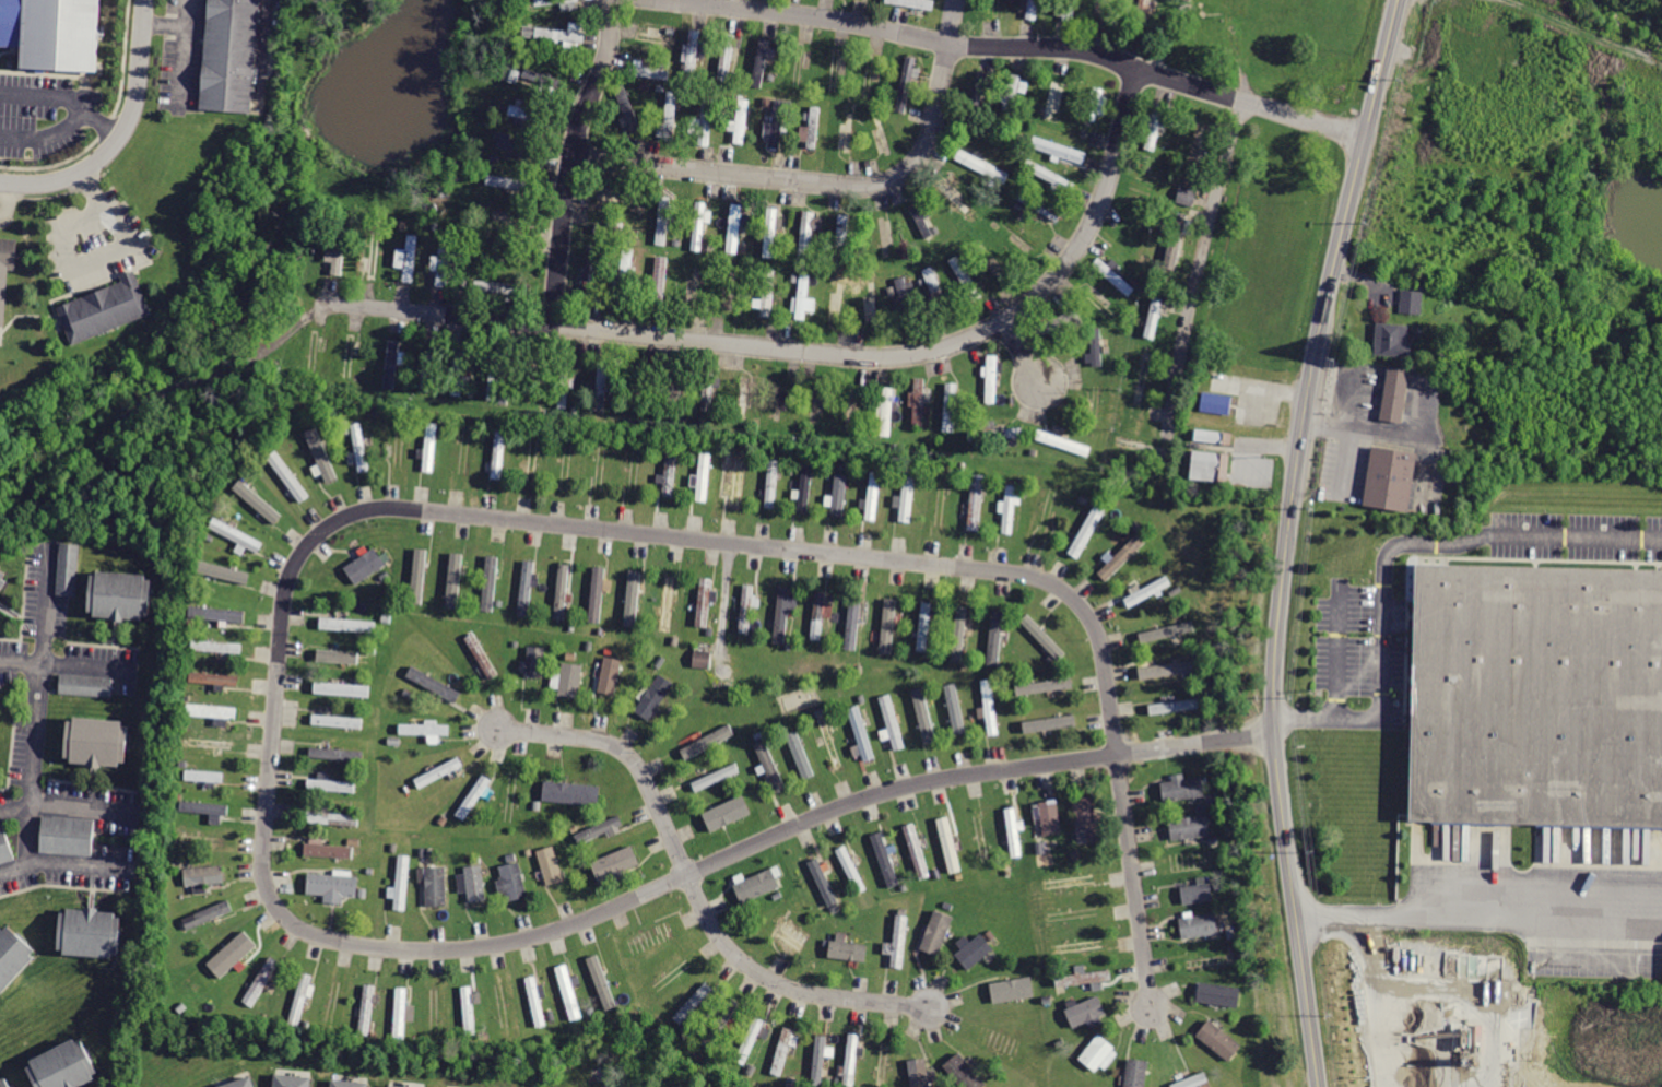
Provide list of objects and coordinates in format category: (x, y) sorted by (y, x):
building: (552, 2)
building: (915, 3)
building: (1030, 10)
building: (1069, 10)
building: (1142, 17)
road: (155, 25)
road: (178, 26)
building: (554, 33)
building: (52, 34)
road: (1584, 34)
building: (657, 37)
road: (1007, 48)
building: (693, 50)
parking lot: (182, 55)
road: (186, 56)
building: (231, 56)
building: (729, 57)
building: (762, 60)
building: (648, 70)
building: (834, 71)
building: (541, 76)
building: (905, 83)
building: (1012, 92)
road: (46, 96)
building: (977, 96)
building: (1057, 102)
building: (1094, 106)
building: (628, 109)
building: (530, 113)
building: (669, 116)
building: (705, 120)
building: (742, 122)
building: (777, 126)
building: (1155, 127)
building: (812, 128)
road: (66, 130)
building: (849, 132)
road: (119, 134)
building: (517, 147)
building: (1057, 150)
building: (1198, 150)
road: (570, 158)
building: (982, 165)
building: (1049, 177)
building: (508, 182)
road: (829, 184)
building: (1190, 196)
road: (7, 202)
building: (958, 202)
building: (1038, 205)
building: (509, 220)
building: (922, 221)
building: (663, 222)
building: (699, 227)
building: (734, 228)
building: (616, 232)
building: (771, 234)
building: (806, 235)
building: (844, 240)
building: (1175, 241)
building: (339, 249)
building: (375, 251)
road: (97, 257)
building: (409, 260)
road: (1200, 260)
building: (443, 262)
building: (5, 270)
building: (591, 273)
building: (626, 276)
building: (1112, 276)
building: (966, 277)
building: (659, 282)
building: (497, 283)
building: (935, 292)
building: (768, 293)
building: (803, 298)
building: (840, 299)
building: (1411, 300)
building: (906, 303)
building: (1104, 307)
building: (104, 309)
building: (1154, 317)
building: (1057, 324)
building: (1391, 338)
building: (1097, 344)
road: (806, 352)
road: (1023, 354)
building: (313, 355)
building: (352, 357)
building: (392, 365)
building: (427, 369)
building: (462, 375)
building: (494, 375)
building: (992, 379)
building: (1144, 379)
building: (565, 385)
building: (601, 387)
building: (636, 391)
building: (707, 392)
building: (672, 393)
building: (1395, 395)
building: (744, 400)
building: (919, 402)
building: (1219, 404)
building: (951, 406)
building: (887, 412)
building: (997, 434)
building: (1064, 442)
building: (429, 446)
road: (1269, 446)
building: (359, 447)
building: (1145, 450)
building: (498, 453)
building: (320, 456)
building: (531, 459)
building: (600, 465)
building: (1211, 468)
building: (670, 470)
building: (287, 475)
building: (703, 476)
building: (1388, 477)
building: (739, 480)
building: (771, 484)
building: (805, 487)
building: (839, 495)
building: (873, 495)
building: (908, 495)
building: (257, 500)
building: (976, 501)
building: (1010, 510)
building: (1087, 530)
building: (236, 534)
road: (1287, 539)
road: (1390, 548)
building: (1121, 556)
building: (365, 566)
building: (69, 568)
building: (224, 571)
building: (417, 575)
building: (3, 577)
building: (455, 580)
building: (488, 582)
building: (527, 588)
building: (1146, 589)
building: (562, 592)
building: (596, 593)
building: (121, 594)
building: (632, 596)
building: (706, 601)
building: (669, 602)
building: (745, 607)
building: (220, 614)
building: (782, 614)
building: (818, 615)
building: (853, 621)
building: (349, 624)
building: (924, 625)
building: (888, 626)
building: (1163, 630)
building: (962, 634)
building: (994, 636)
building: (1044, 636)
building: (217, 645)
building: (703, 653)
building: (480, 654)
building: (337, 655)
road: (1336, 655)
building: (537, 661)
road: (23, 664)
building: (1169, 667)
road: (89, 669)
building: (611, 674)
building: (214, 680)
building: (570, 681)
building: (434, 683)
building: (89, 685)
building: (1046, 685)
building: (342, 689)
building: (1539, 697)
building: (655, 698)
road: (43, 705)
building: (1176, 706)
building: (989, 707)
building: (211, 710)
building: (957, 710)
building: (924, 716)
building: (338, 719)
building: (894, 722)
building: (1049, 723)
building: (424, 728)
building: (862, 731)
building: (830, 739)
building: (97, 741)
building: (707, 741)
building: (209, 744)
building: (335, 751)
building: (800, 754)
road: (626, 755)
building: (769, 766)
road: (270, 769)
building: (439, 771)
building: (204, 775)
building: (719, 776)
building: (333, 784)
building: (1183, 790)
building: (571, 792)
building: (474, 797)
building: (204, 806)
road: (68, 807)
building: (729, 811)
building: (1036, 814)
building: (1050, 816)
building: (332, 818)
building: (1087, 820)
building: (1190, 825)
building: (597, 828)
building: (1015, 832)
building: (68, 835)
building: (983, 837)
building: (947, 843)
building: (4, 844)
building: (329, 851)
building: (916, 851)
building: (886, 859)
road: (64, 865)
building: (552, 866)
building: (614, 866)
building: (852, 869)
building: (205, 875)
building: (824, 881)
building: (1069, 882)
road: (1134, 882)
building: (402, 883)
building: (514, 883)
building: (474, 884)
building: (331, 885)
building: (437, 886)
building: (758, 887)
building: (1197, 893)
road: (1478, 907)
building: (207, 912)
building: (1201, 924)
building: (89, 932)
building: (793, 933)
building: (936, 934)
building: (650, 940)
building: (900, 942)
building: (1081, 946)
building: (849, 948)
building: (975, 949)
building: (231, 953)
building: (12, 957)
building: (1205, 960)
building: (673, 973)
building: (1083, 978)
building: (262, 981)
building: (602, 983)
road: (781, 985)
building: (1011, 989)
building: (570, 991)
building: (1217, 992)
building: (300, 1000)
building: (537, 1001)
building: (693, 1001)
building: (365, 1012)
building: (470, 1012)
building: (1087, 1012)
building: (401, 1015)
building: (719, 1023)
building: (1217, 1038)
building: (751, 1041)
building: (782, 1050)
building: (1097, 1053)
building: (852, 1059)
building: (818, 1060)
building: (885, 1062)
building: (63, 1065)
building: (920, 1070)
building: (966, 1070)
building: (1138, 1073)
building: (291, 1079)
building: (5, 1080)
building: (1194, 1080)
building: (238, 1082)
building: (349, 1082)
building: (401, 1086)

